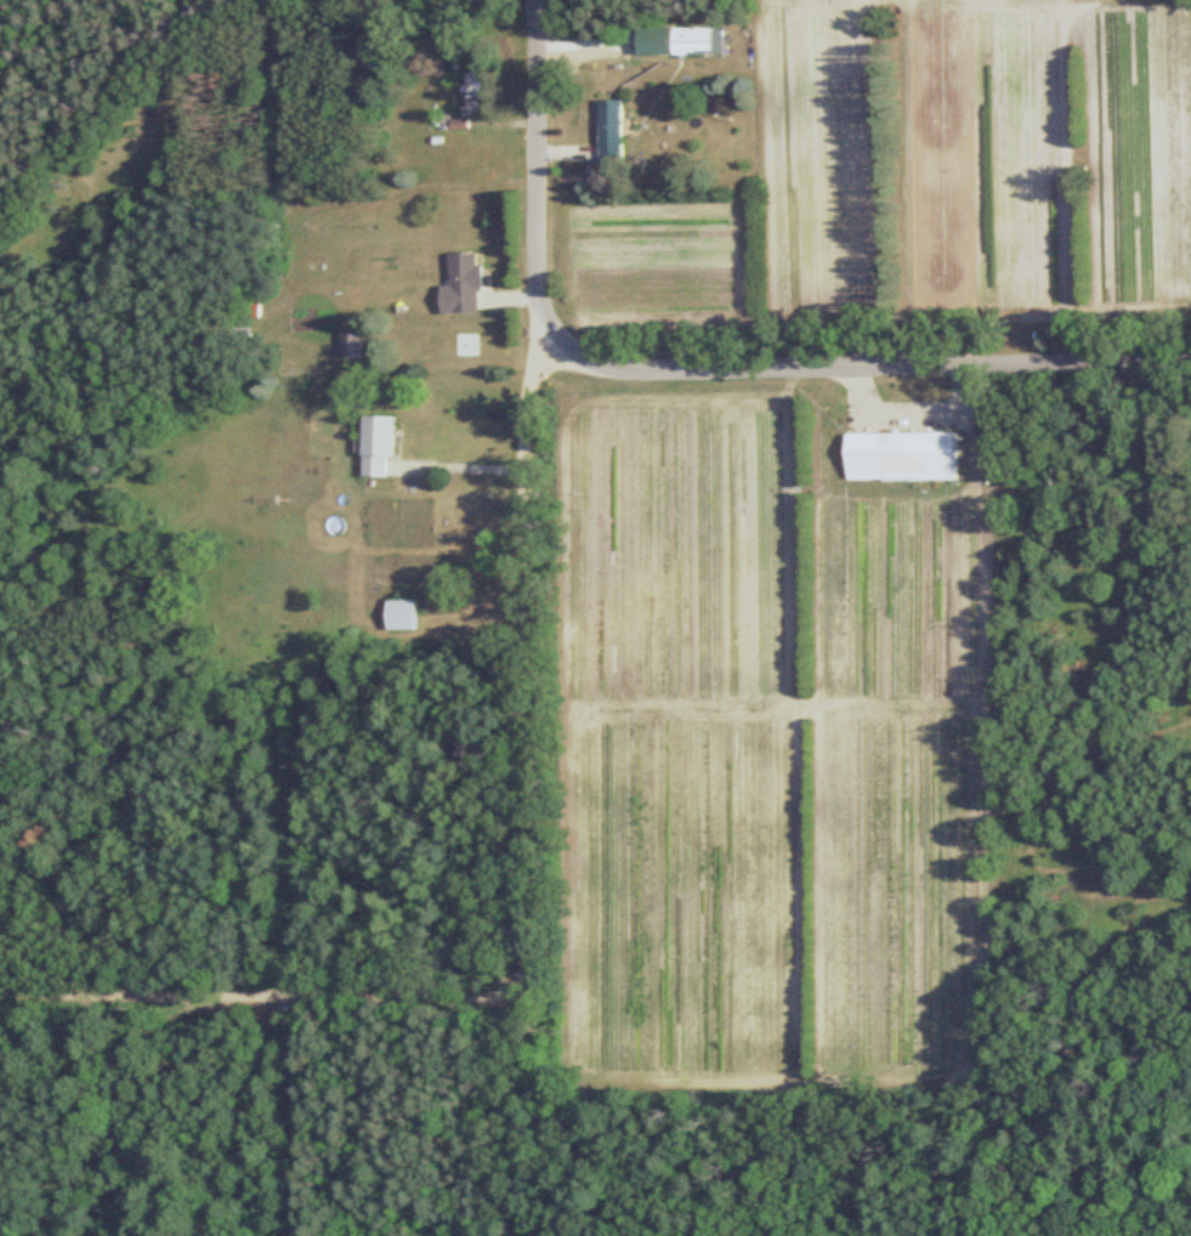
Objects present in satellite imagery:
building: (694, 41)
building: (470, 93)
building: (607, 129)
road: (534, 147)
building: (459, 285)
road: (862, 334)
building: (347, 346)
building: (374, 446)
building: (898, 458)
road: (464, 465)
building: (398, 616)
road: (524, 875)
road: (507, 1099)

